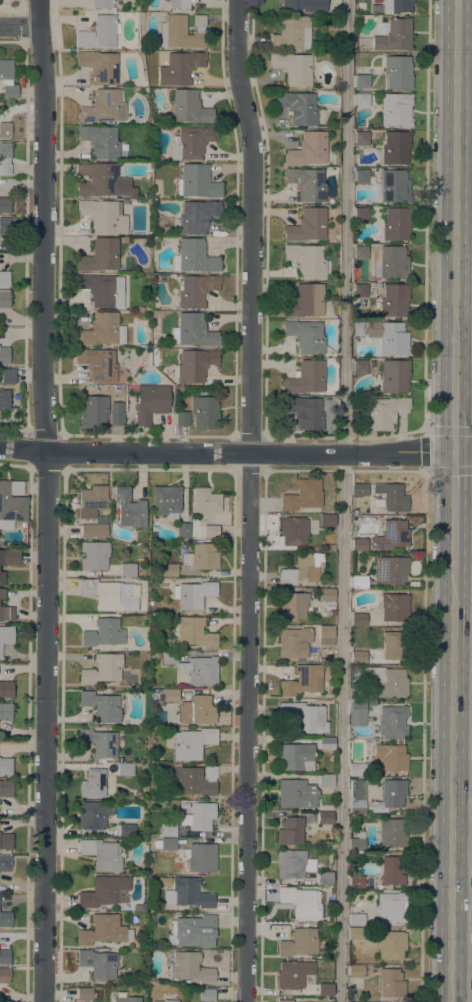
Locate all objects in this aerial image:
building: (102, 4)
building: (178, 4)
building: (397, 5)
building: (304, 6)
road: (20, 27)
building: (182, 32)
building: (99, 33)
building: (291, 33)
building: (394, 36)
building: (99, 66)
building: (179, 68)
building: (293, 68)
building: (397, 72)
building: (7, 80)
building: (362, 82)
building: (362, 100)
building: (103, 107)
building: (190, 108)
building: (298, 108)
building: (396, 110)
building: (5, 131)
building: (362, 138)
building: (100, 141)
building: (191, 143)
building: (395, 148)
building: (307, 150)
building: (5, 158)
road: (453, 167)
building: (361, 177)
building: (98, 180)
building: (197, 182)
building: (307, 184)
building: (393, 187)
building: (5, 205)
building: (361, 215)
road: (426, 215)
building: (103, 216)
building: (197, 217)
building: (396, 224)
building: (5, 225)
building: (307, 226)
building: (361, 253)
building: (100, 256)
building: (196, 257)
building: (306, 260)
building: (392, 263)
building: (4, 279)
building: (162, 279)
building: (102, 290)
building: (196, 291)
building: (360, 291)
building: (4, 299)
building: (305, 301)
building: (394, 301)
building: (102, 331)
building: (193, 331)
building: (305, 336)
building: (385, 336)
building: (4, 355)
building: (98, 364)
building: (194, 365)
building: (360, 367)
building: (8, 376)
building: (394, 376)
building: (305, 379)
road: (453, 392)
building: (4, 400)
building: (151, 403)
building: (305, 412)
building: (93, 413)
building: (204, 413)
building: (385, 413)
building: (116, 418)
building: (182, 419)
road: (425, 450)
traffic signals: (454, 452)
road: (235, 453)
building: (359, 490)
building: (303, 496)
building: (390, 498)
road: (46, 500)
road: (249, 500)
road: (343, 500)
building: (91, 501)
building: (166, 501)
building: (205, 501)
building: (11, 504)
building: (129, 509)
road: (453, 510)
building: (327, 521)
building: (93, 531)
building: (182, 531)
building: (293, 531)
building: (210, 532)
building: (390, 536)
building: (359, 545)
building: (93, 556)
building: (201, 557)
building: (10, 558)
building: (127, 570)
building: (167, 570)
building: (303, 570)
building: (390, 571)
building: (2, 577)
building: (358, 582)
building: (1, 594)
building: (111, 595)
building: (193, 595)
building: (326, 595)
building: (292, 606)
building: (394, 608)
building: (7, 614)
building: (332, 614)
building: (358, 620)
building: (103, 633)
building: (194, 633)
building: (6, 636)
building: (325, 636)
building: (293, 643)
building: (393, 644)
building: (357, 657)
building: (167, 658)
building: (102, 669)
building: (200, 671)
building: (183, 680)
building: (304, 680)
building: (387, 681)
building: (6, 690)
building: (363, 694)
building: (170, 696)
building: (100, 707)
building: (5, 711)
building: (197, 711)
building: (357, 714)
building: (302, 717)
building: (392, 720)
road: (423, 735)
building: (389, 737)
building: (99, 743)
building: (192, 744)
building: (326, 744)
building: (295, 757)
building: (390, 758)
building: (6, 766)
building: (316, 767)
building: (357, 769)
building: (125, 770)
building: (192, 780)
building: (325, 781)
building: (93, 783)
road: (449, 785)
building: (6, 788)
building: (296, 794)
building: (389, 796)
building: (357, 797)
building: (183, 806)
building: (327, 808)
building: (93, 815)
building: (199, 816)
building: (324, 818)
building: (126, 830)
building: (167, 830)
building: (290, 831)
building: (392, 832)
building: (6, 842)
building: (357, 843)
building: (167, 844)
road: (460, 851)
building: (101, 855)
building: (201, 858)
building: (5, 864)
building: (293, 864)
building: (392, 870)
building: (324, 878)
building: (360, 882)
building: (103, 891)
building: (187, 894)
building: (302, 902)
building: (391, 907)
building: (5, 919)
building: (355, 919)
building: (103, 931)
building: (193, 932)
building: (355, 934)
building: (299, 943)
building: (389, 945)
building: (5, 957)
building: (98, 964)
building: (189, 968)
building: (355, 971)
building: (293, 974)
building: (4, 975)
building: (391, 983)
building: (324, 989)
building: (84, 994)
building: (206, 995)
building: (351, 996)
building: (127, 999)
building: (161, 1001)
building: (168, 1001)
building: (284, 1001)

